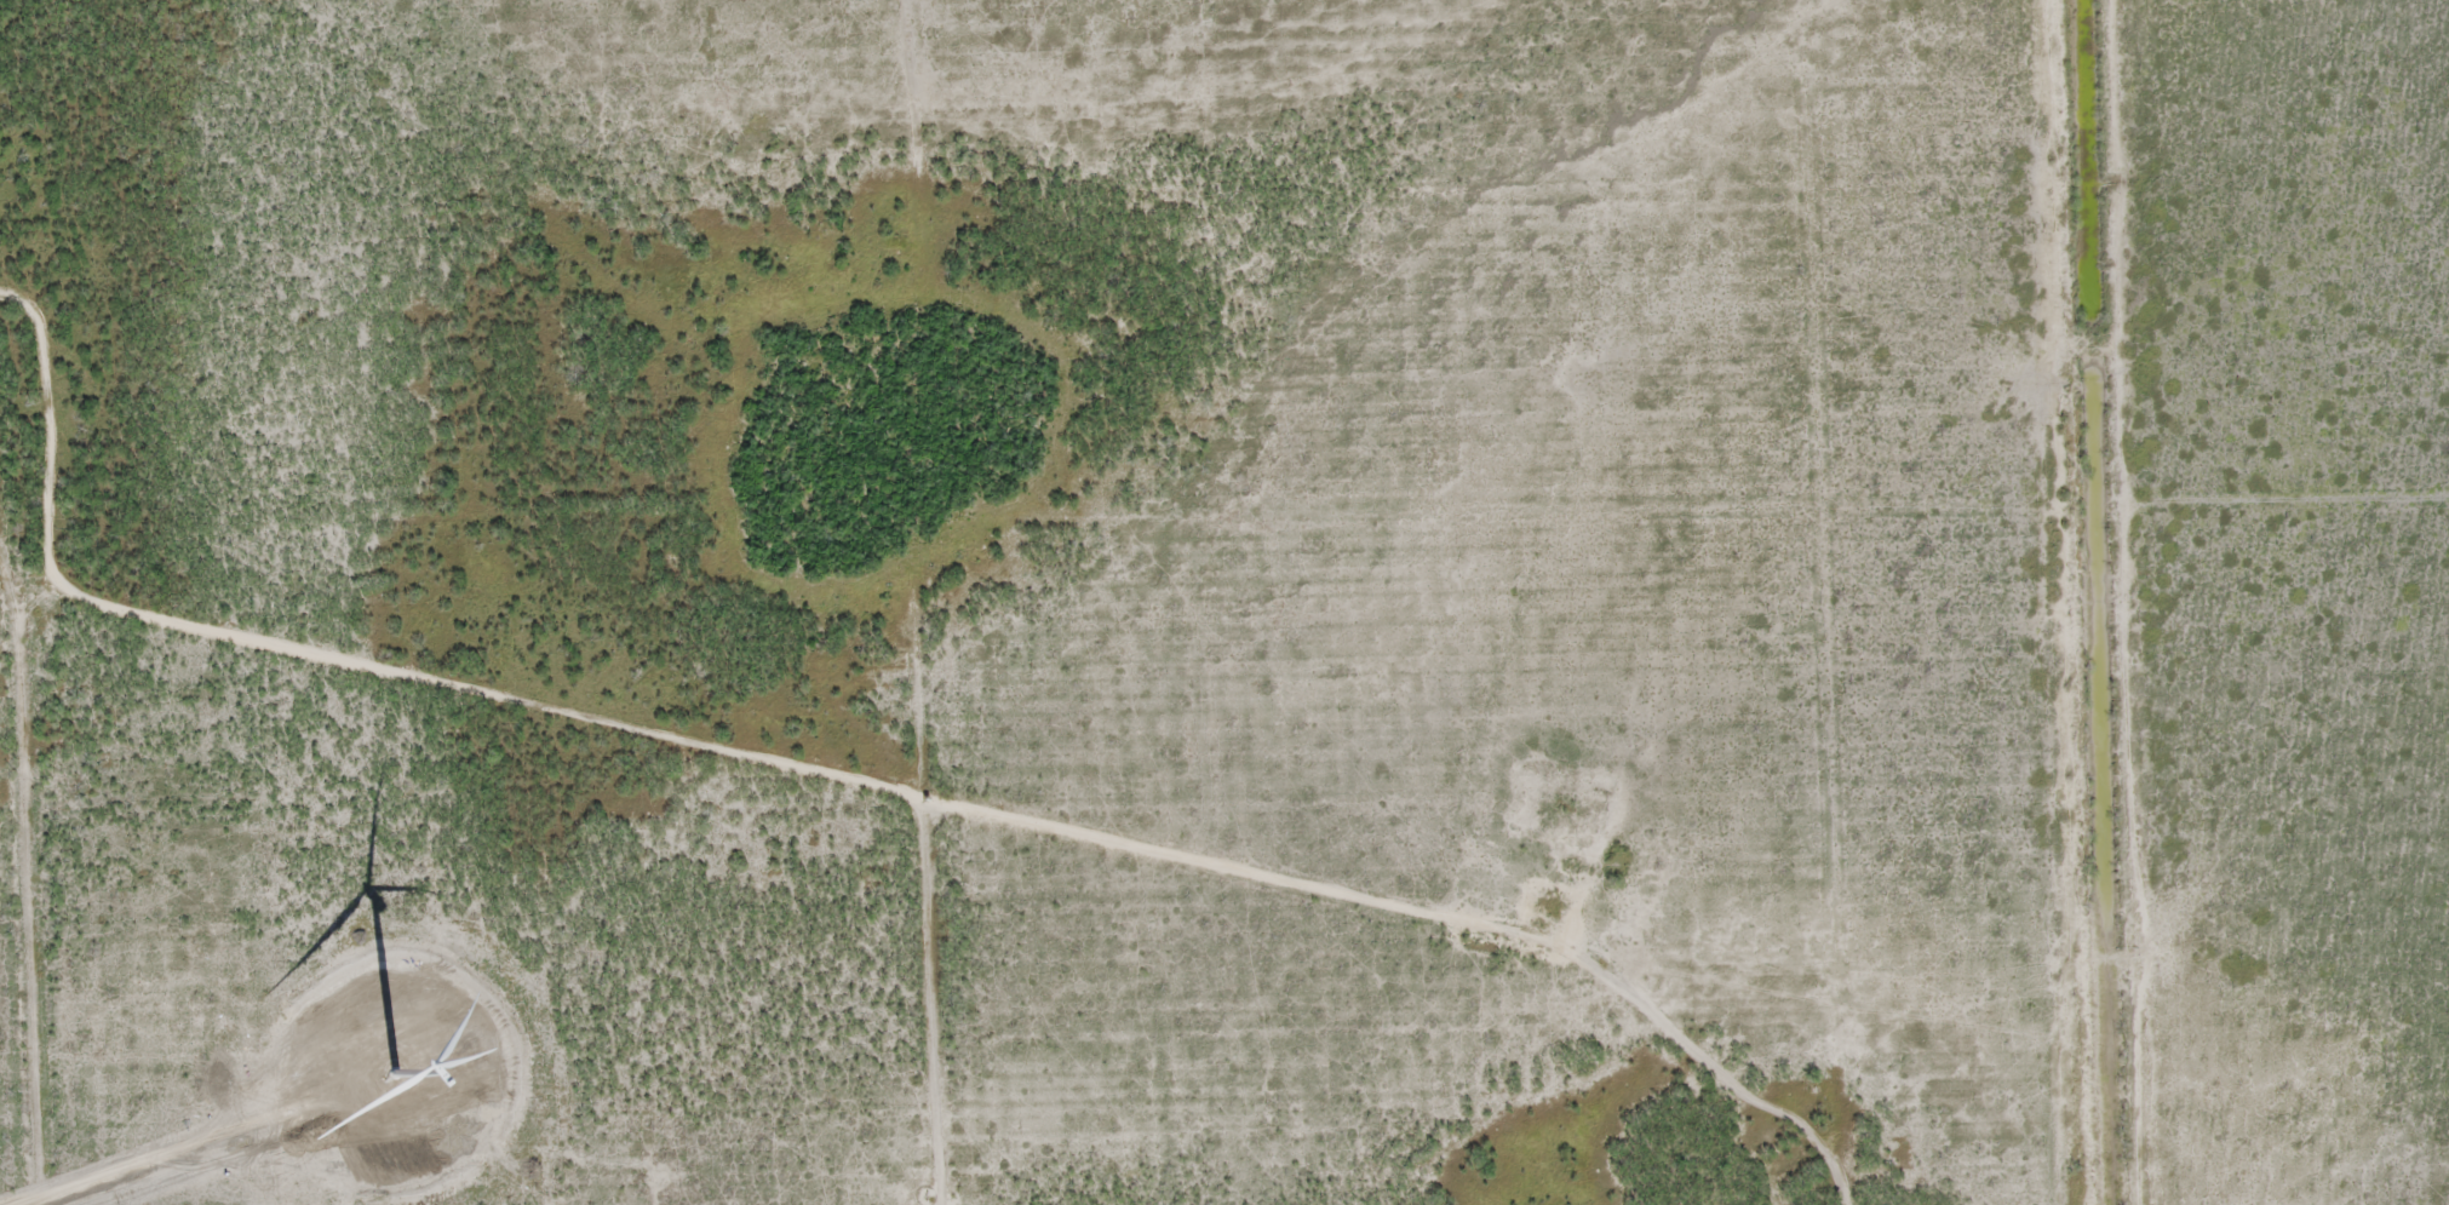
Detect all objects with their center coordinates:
wind turbine: (395, 1073)
road: (171, 1144)

